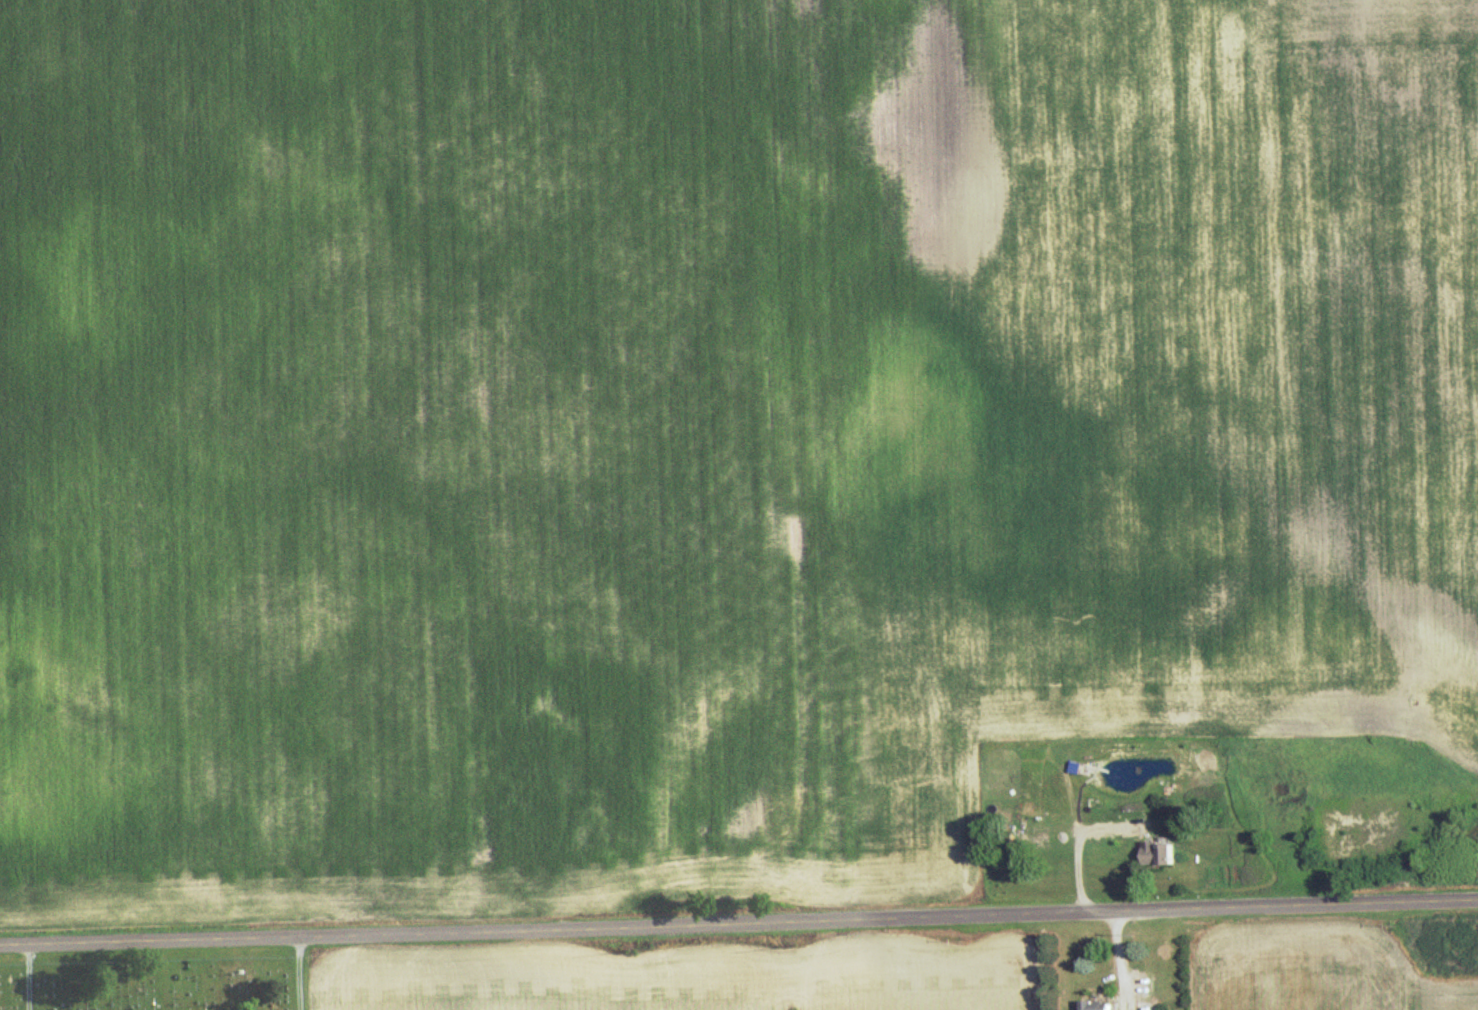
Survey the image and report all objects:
road: (739, 925)
road: (299, 974)
road: (29, 978)
park: (159, 979)
building: (1096, 1005)
building: (1148, 1007)

